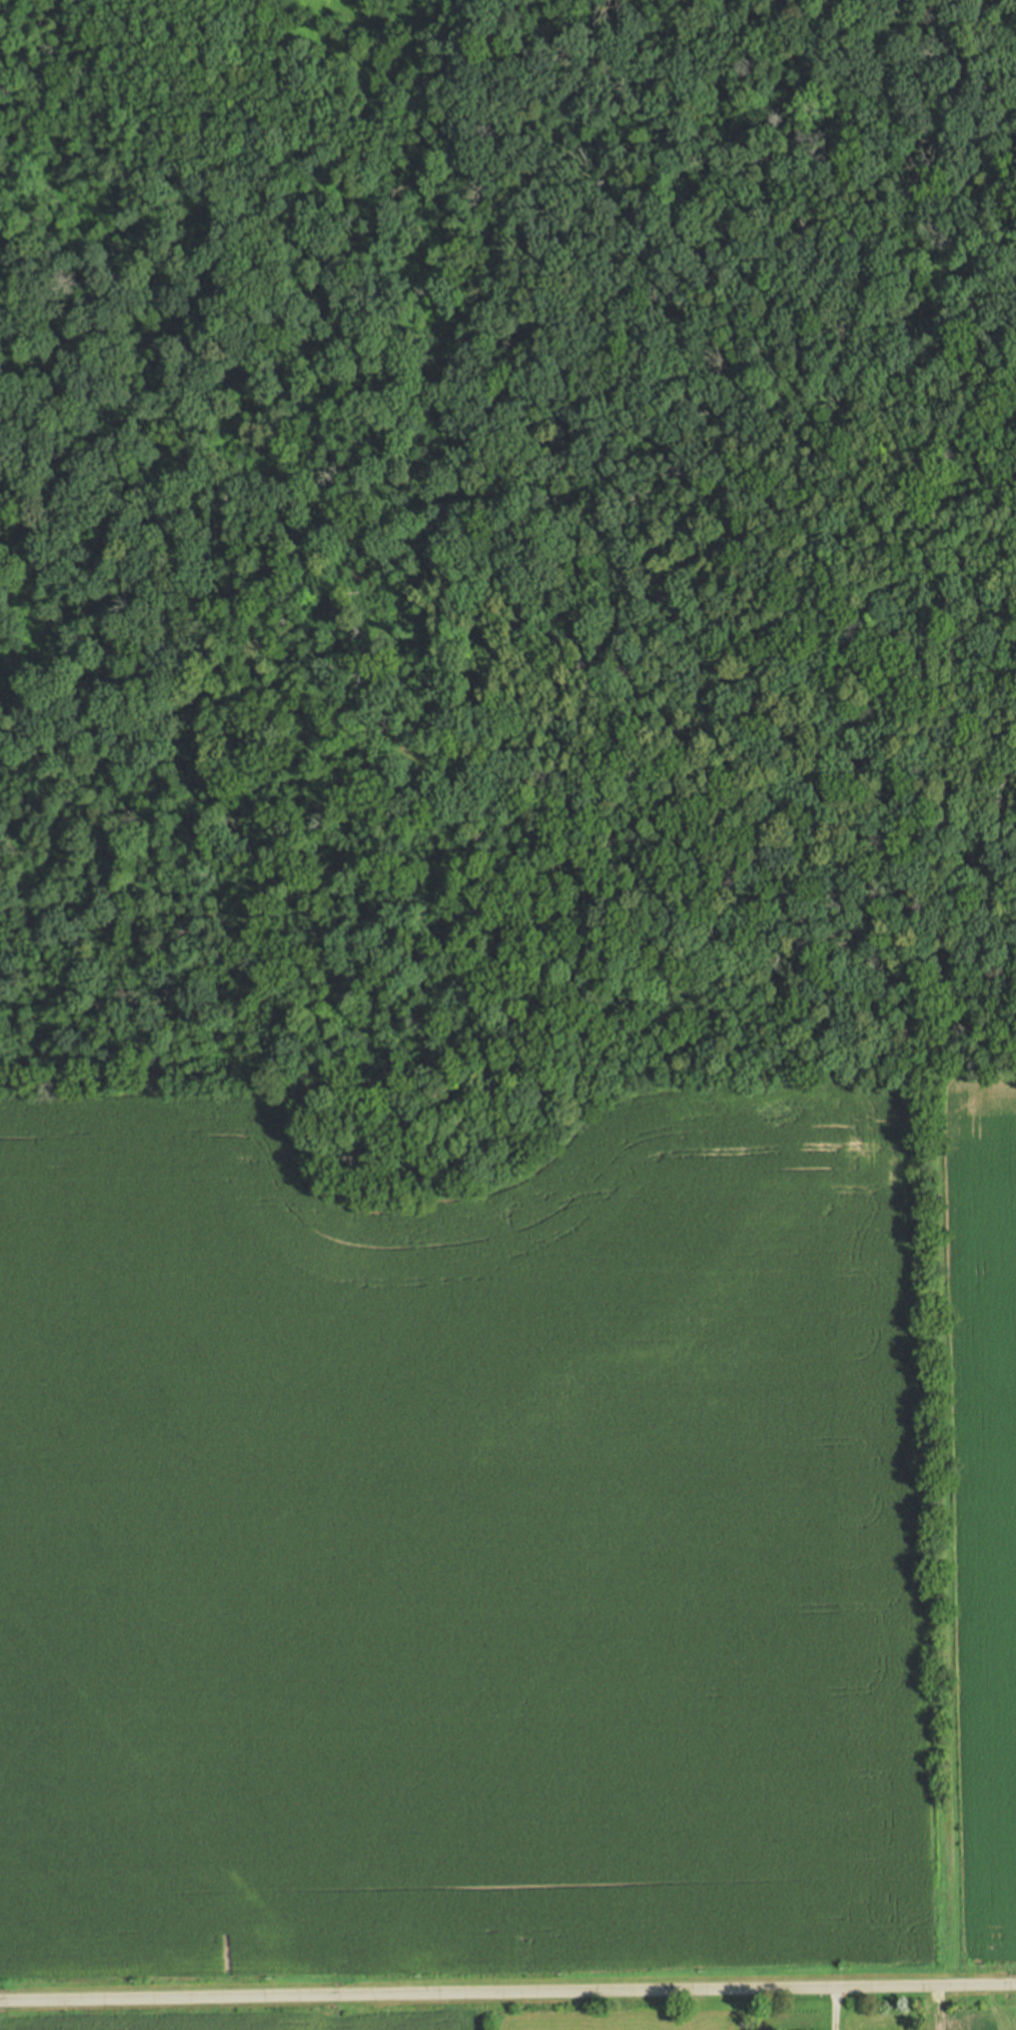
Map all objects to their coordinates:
road: (507, 1992)
road: (833, 2008)

